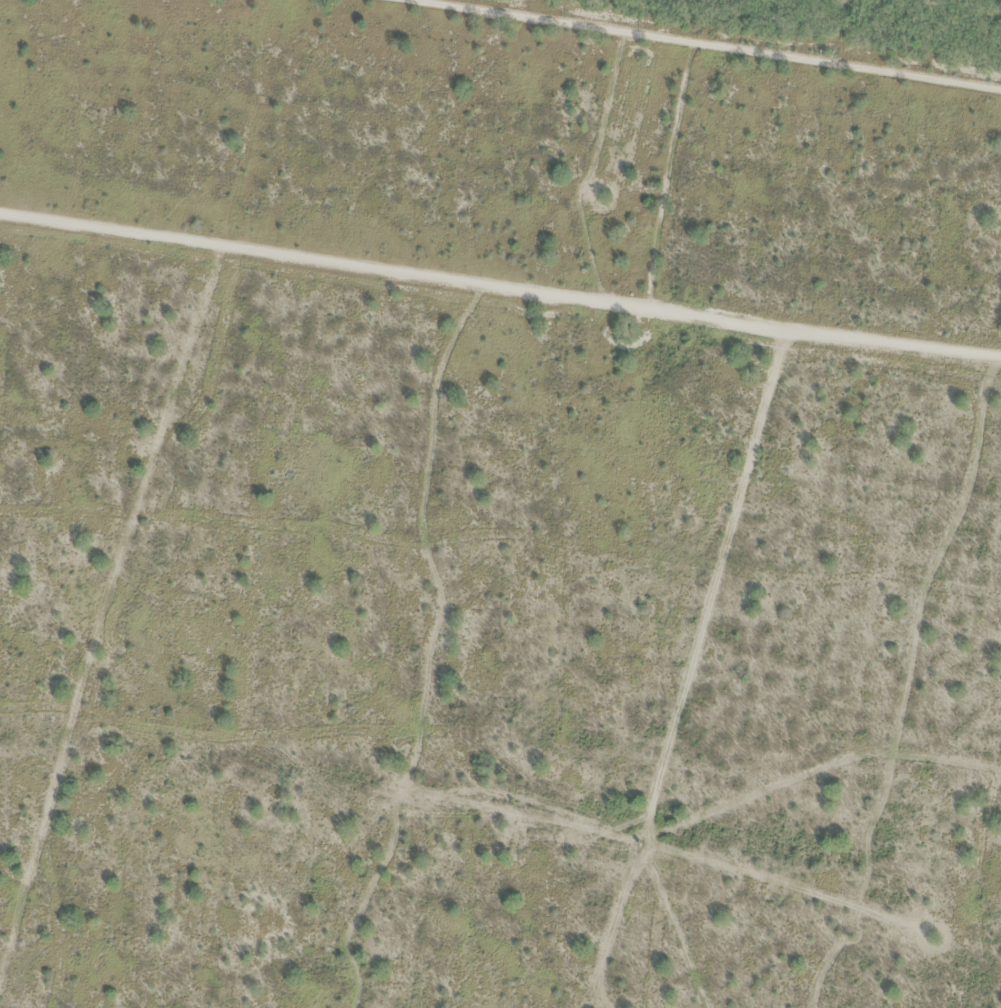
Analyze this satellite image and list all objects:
road: (806, 27)

